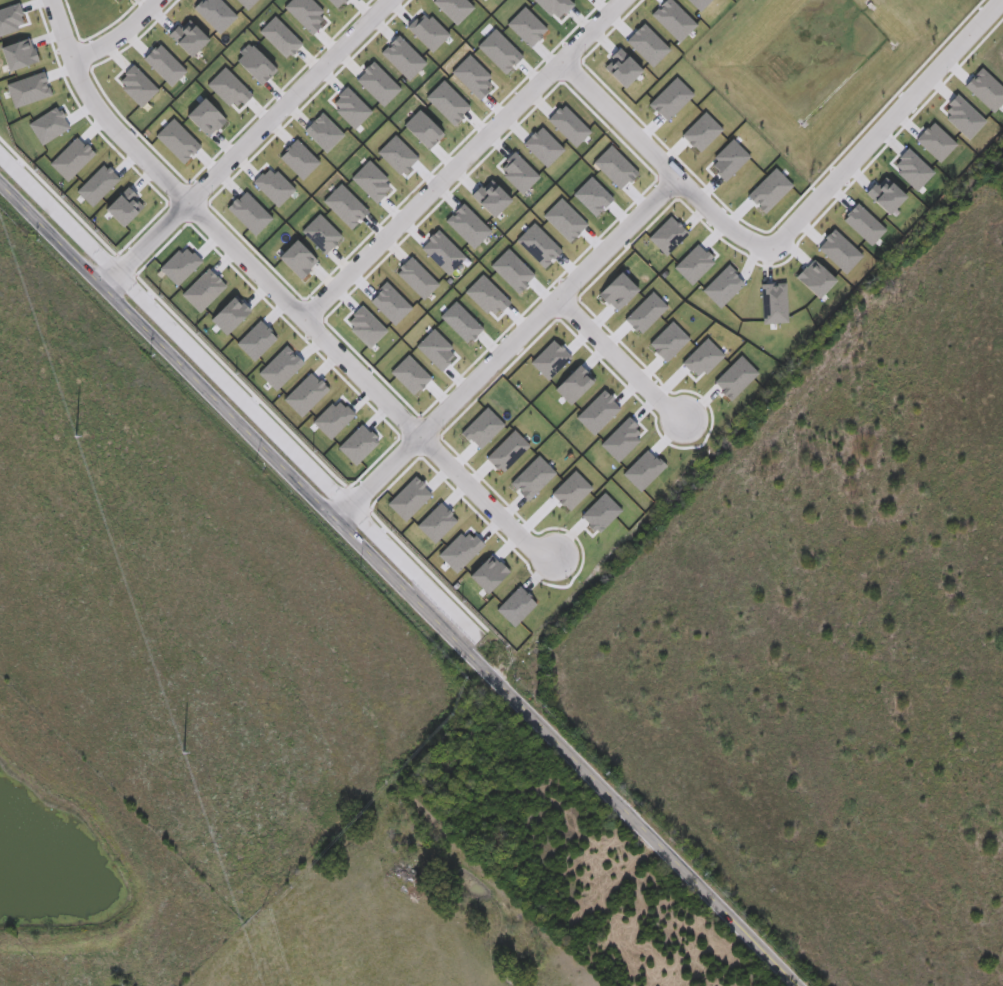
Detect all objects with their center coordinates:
road: (590, 30)
road: (117, 35)
building: (884, 73)
road: (526, 94)
road: (284, 101)
road: (102, 111)
building: (961, 117)
building: (933, 142)
building: (911, 169)
building: (767, 190)
building: (882, 195)
building: (862, 224)
road: (143, 244)
building: (837, 251)
road: (242, 257)
building: (812, 278)
road: (547, 304)
building: (742, 332)
road: (621, 357)
road: (374, 477)
road: (395, 587)

